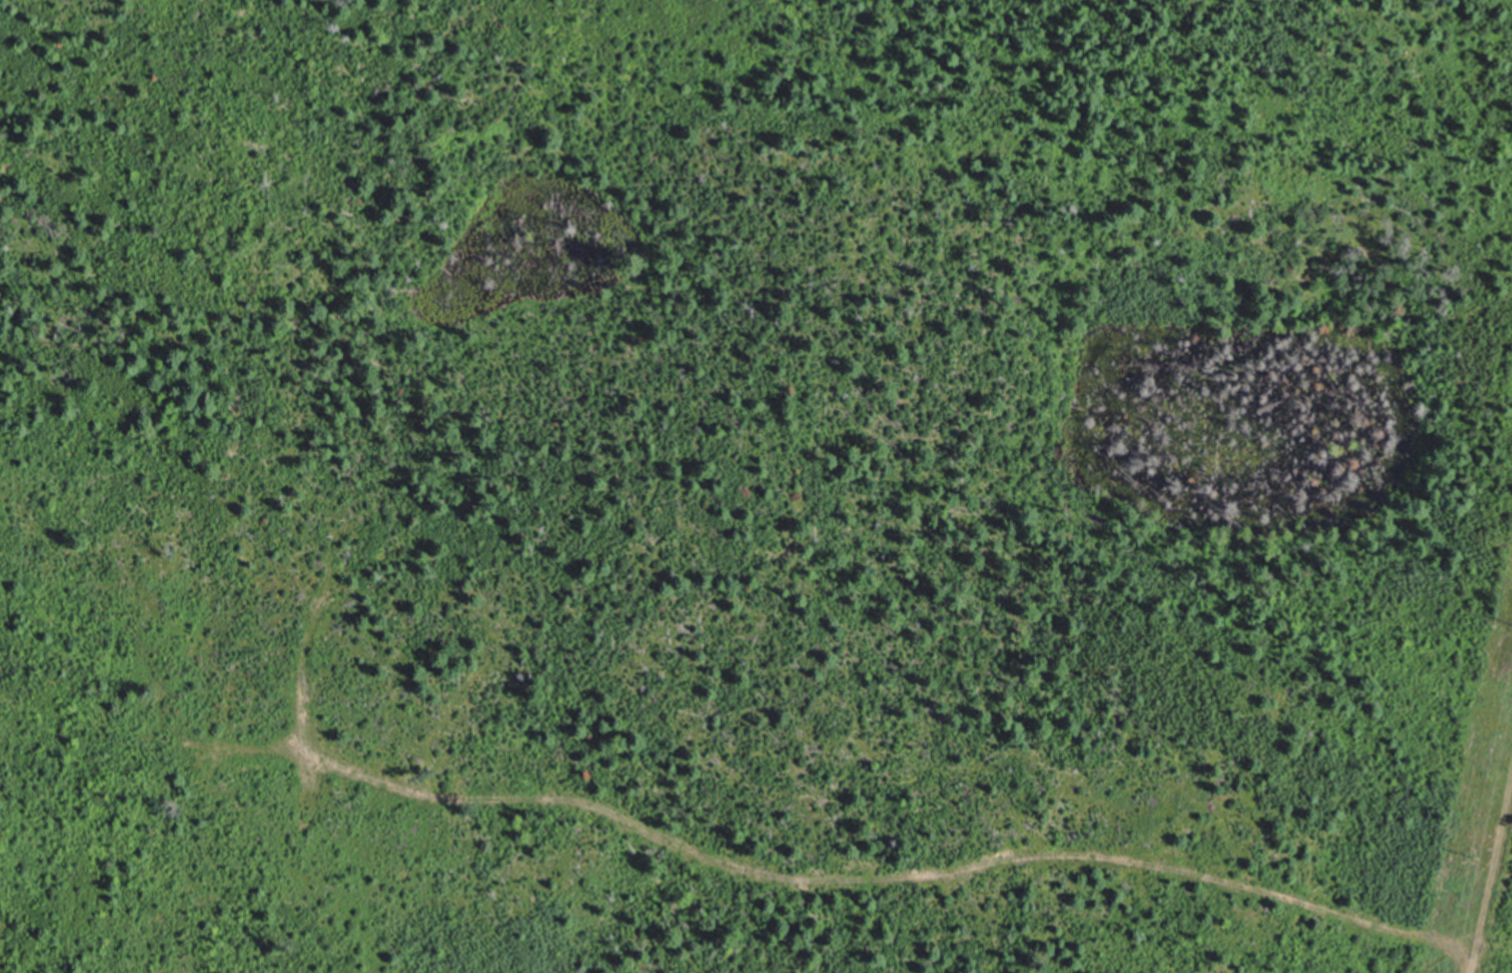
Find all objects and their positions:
power tower: (1482, 855)

